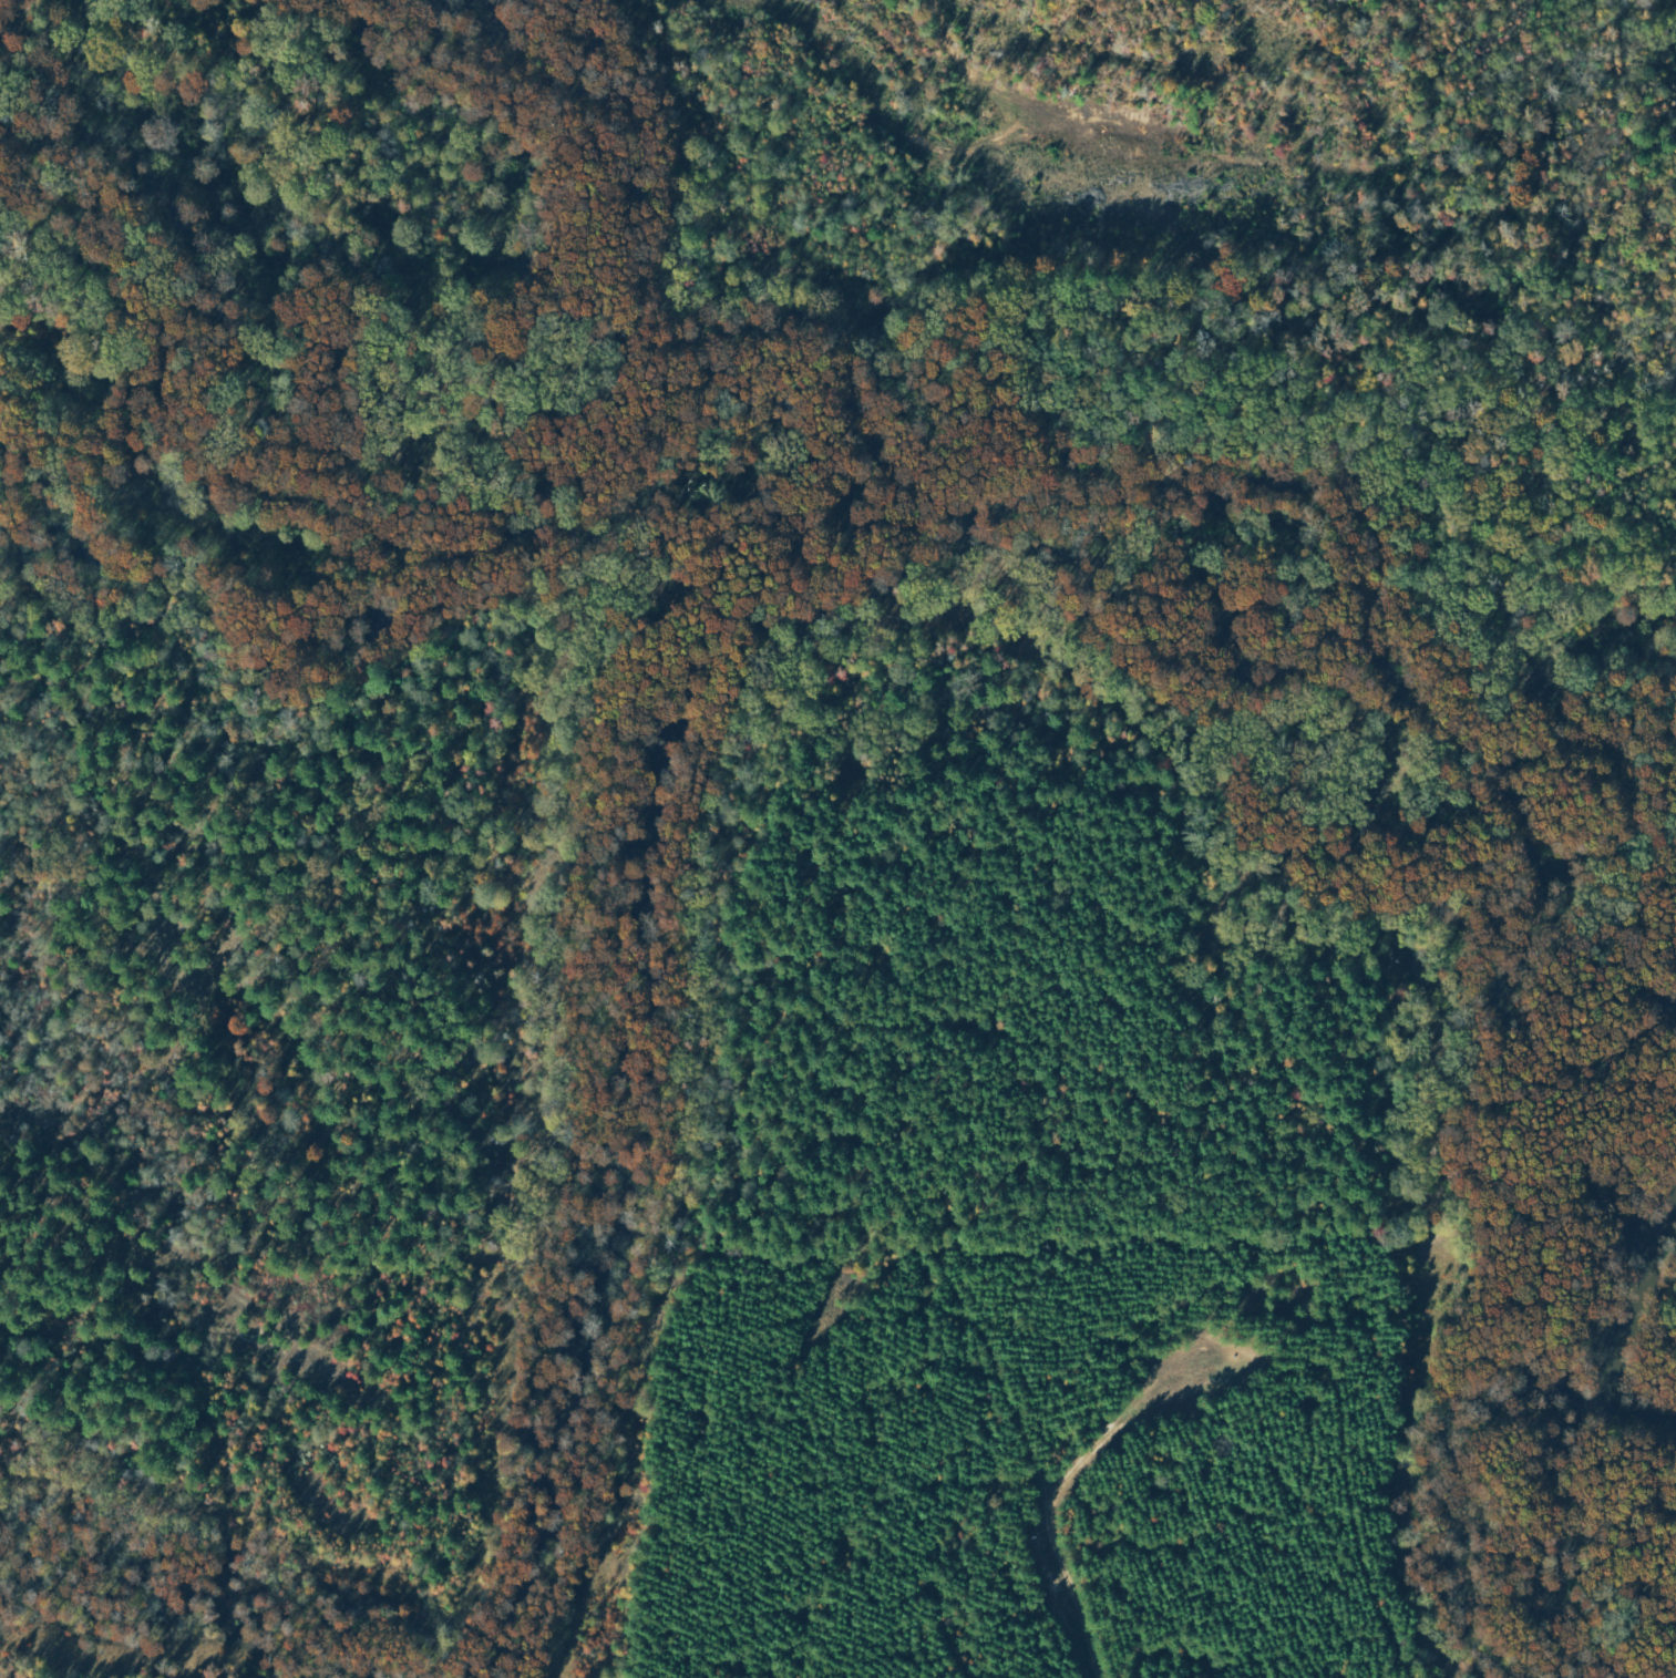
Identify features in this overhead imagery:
river: (870, 351)
road: (116, 1219)
road: (933, 1242)
river: (1626, 1337)

